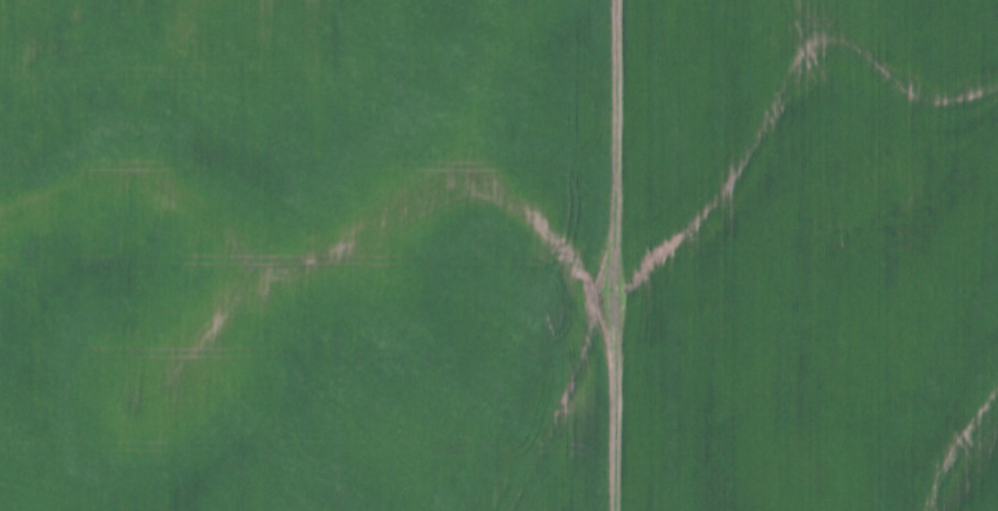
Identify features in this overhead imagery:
road: (621, 255)

